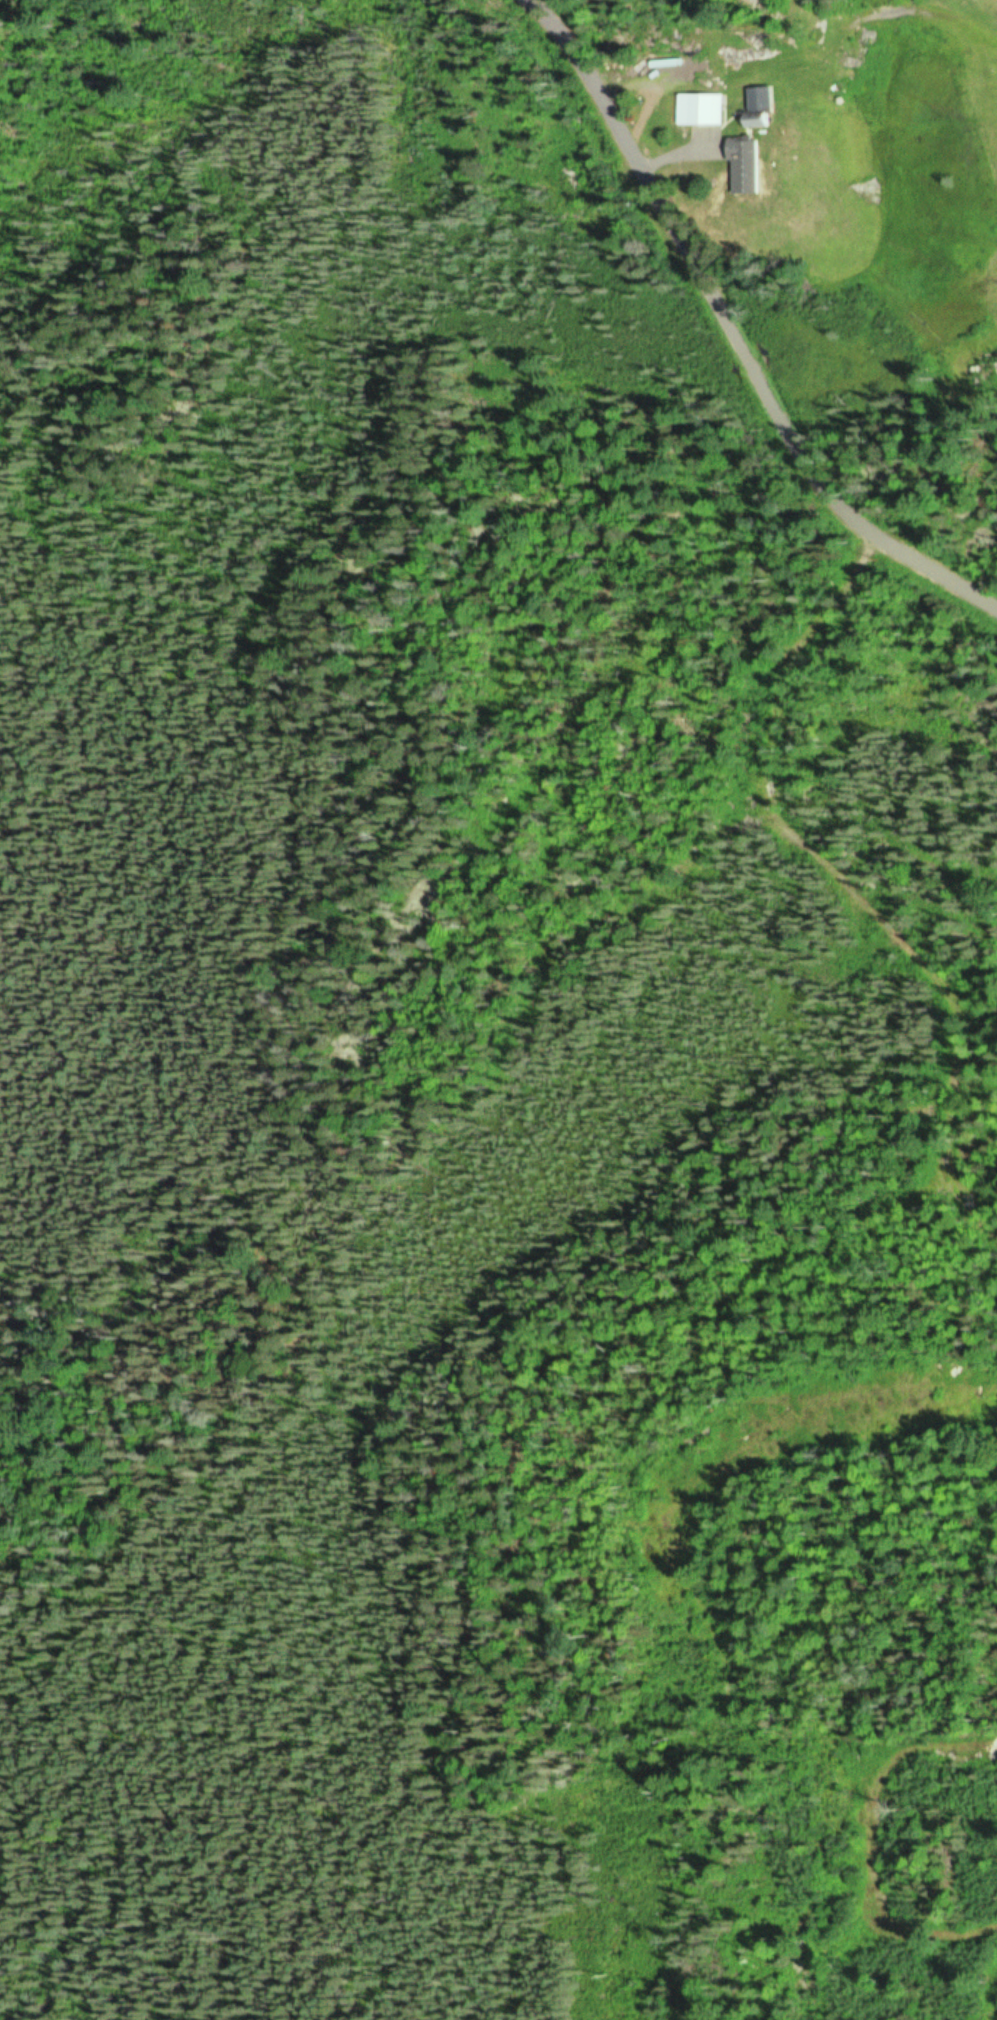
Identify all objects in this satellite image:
building: (757, 100)
building: (698, 107)
building: (742, 162)
road: (731, 333)

